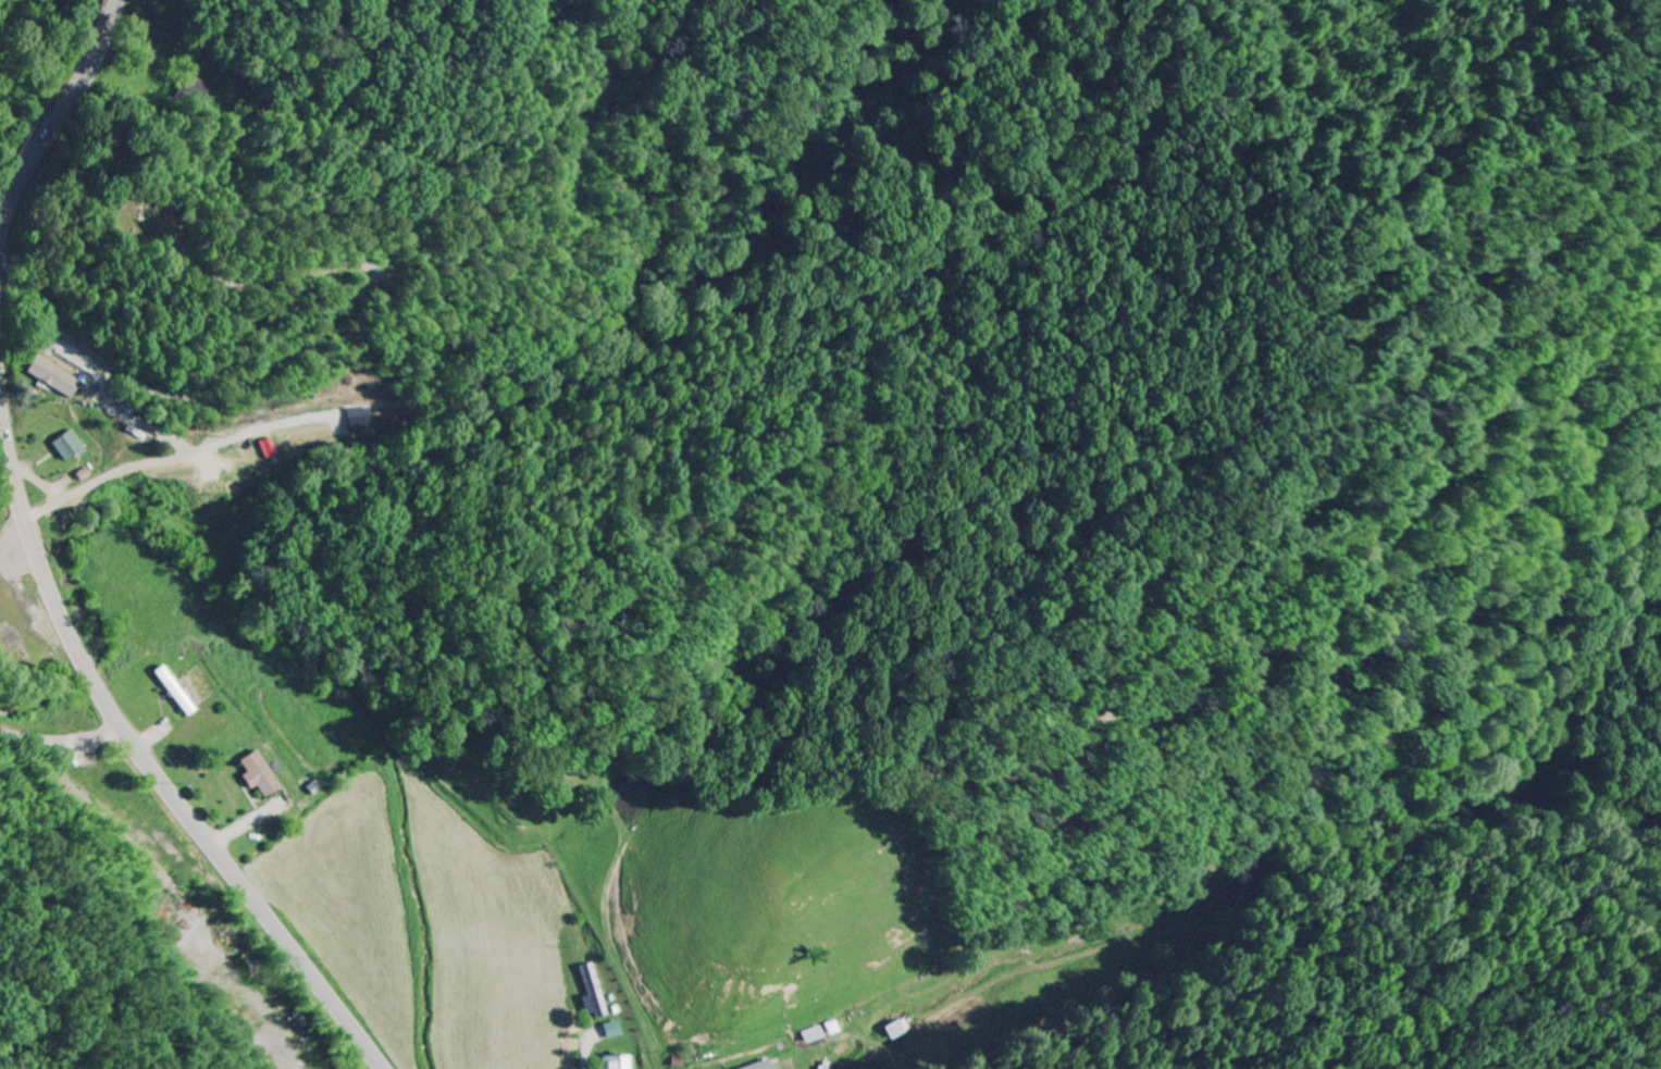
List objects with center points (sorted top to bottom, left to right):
road: (58, 117)
building: (51, 378)
road: (184, 396)
building: (67, 447)
building: (176, 692)
road: (62, 742)
road: (148, 761)
building: (257, 775)
building: (312, 790)
building: (591, 994)
building: (610, 1031)
building: (811, 1035)
road: (584, 1047)
building: (615, 1061)
building: (761, 1066)

